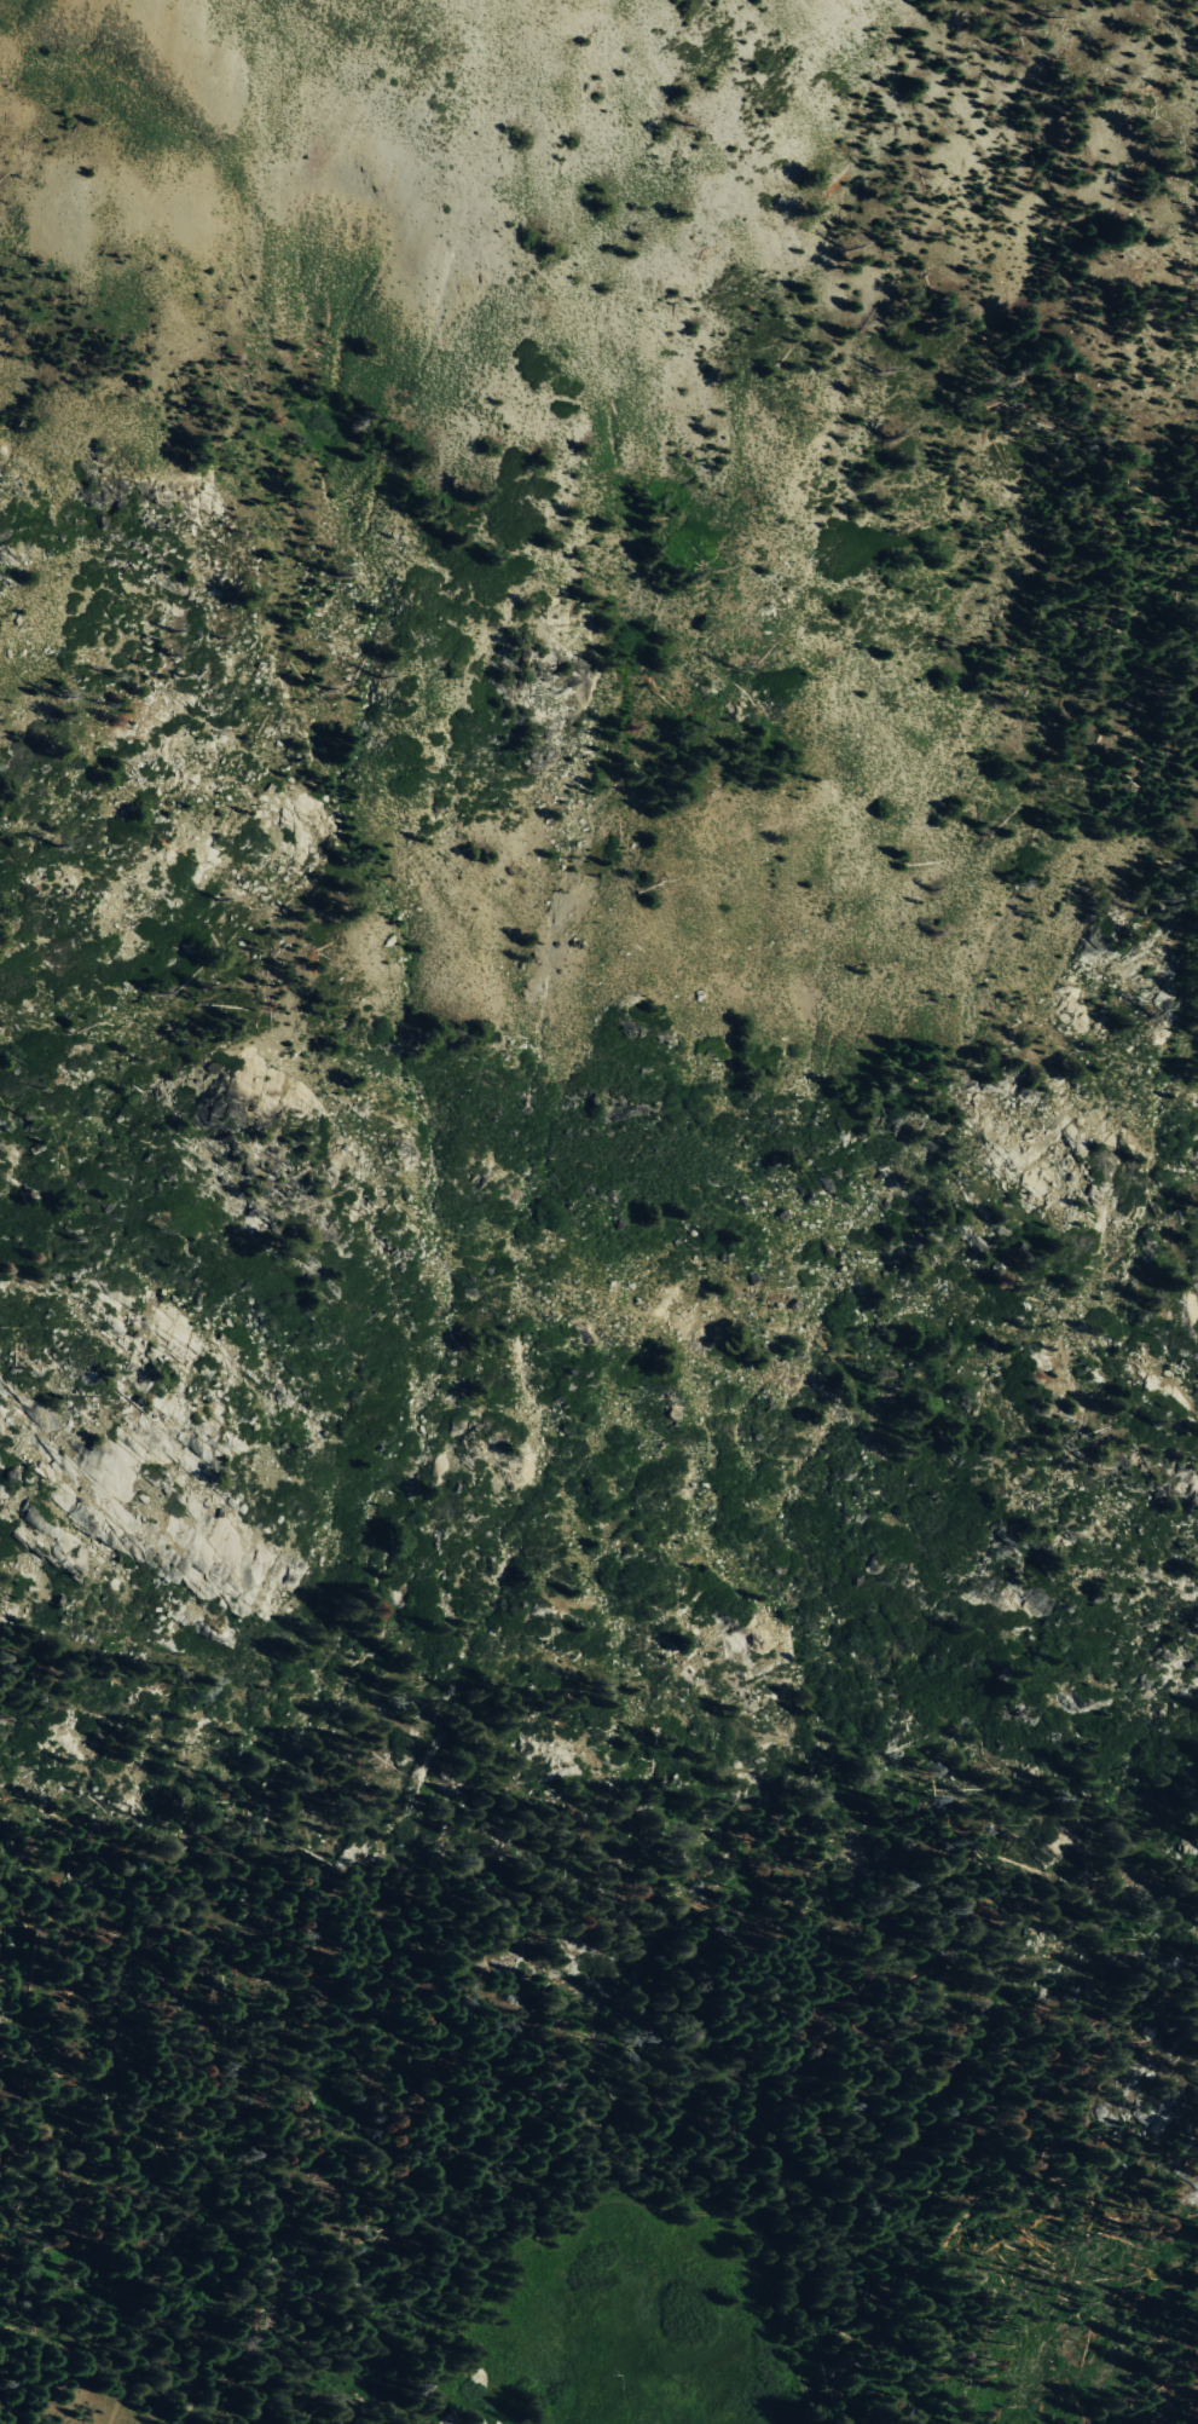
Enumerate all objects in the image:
road: (497, 2269)

